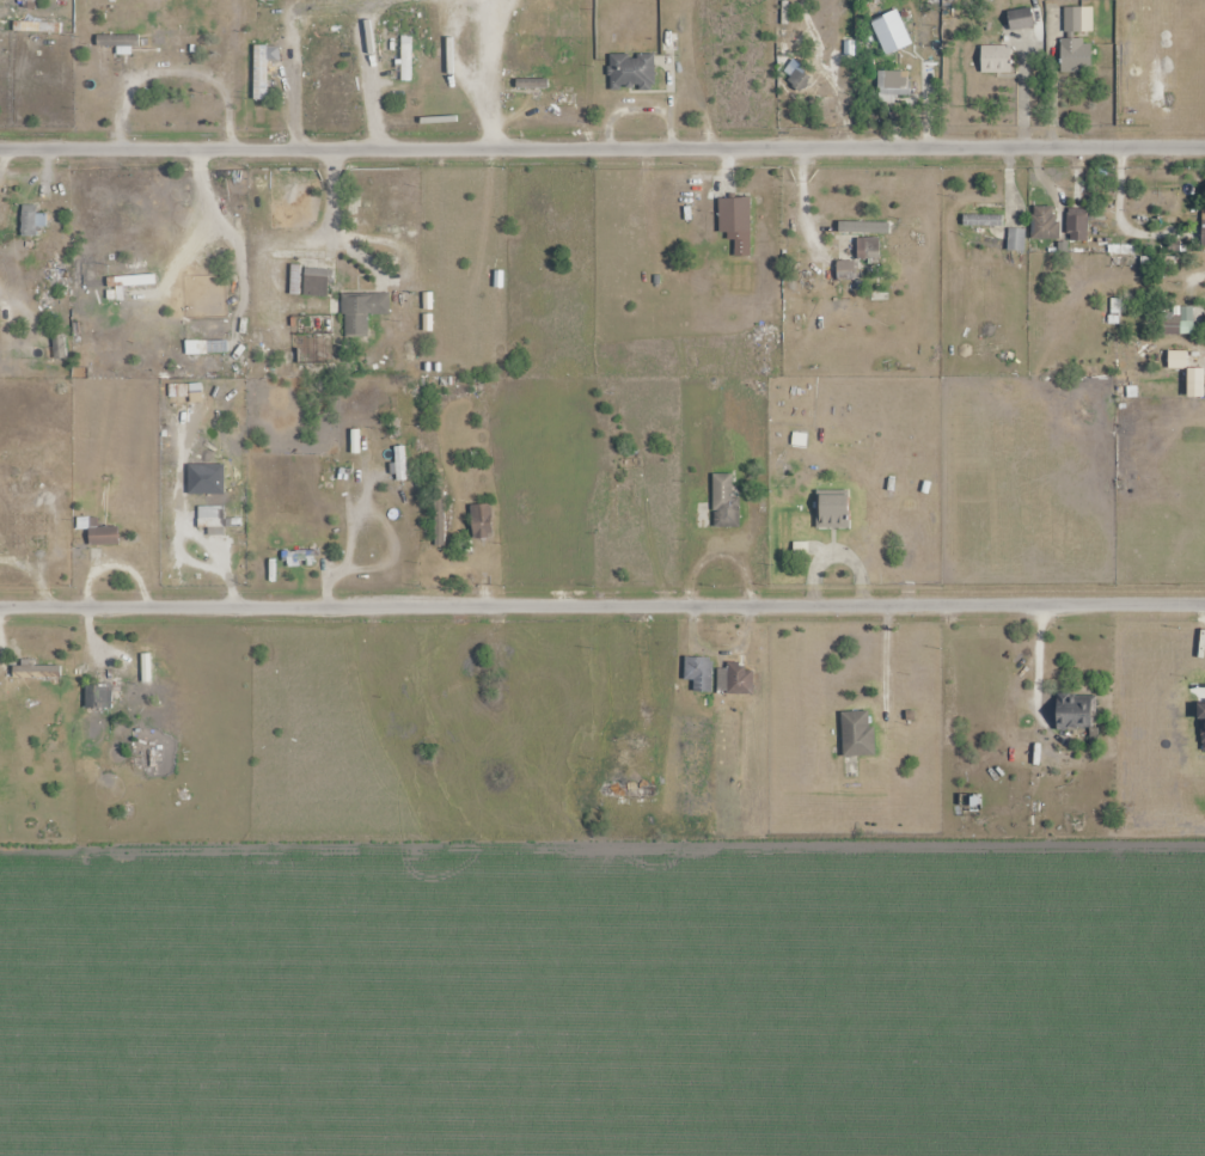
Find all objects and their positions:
building: (25, 0)
building: (432, 12)
building: (1021, 24)
building: (923, 26)
building: (1077, 39)
building: (118, 42)
building: (995, 60)
building: (631, 72)
building: (262, 74)
building: (892, 86)
road: (602, 148)
building: (734, 215)
building: (983, 220)
building: (31, 221)
road: (332, 222)
building: (1077, 225)
building: (1203, 232)
building: (860, 258)
building: (45, 274)
building: (317, 283)
building: (362, 312)
building: (1178, 328)
building: (203, 347)
building: (613, 503)
building: (724, 503)
building: (832, 512)
building: (440, 518)
building: (481, 521)
building: (104, 536)
building: (301, 558)
road: (602, 607)
building: (37, 672)
building: (699, 674)
building: (735, 680)
building: (99, 698)
building: (1076, 712)
building: (857, 734)
building: (629, 791)
building: (974, 806)

